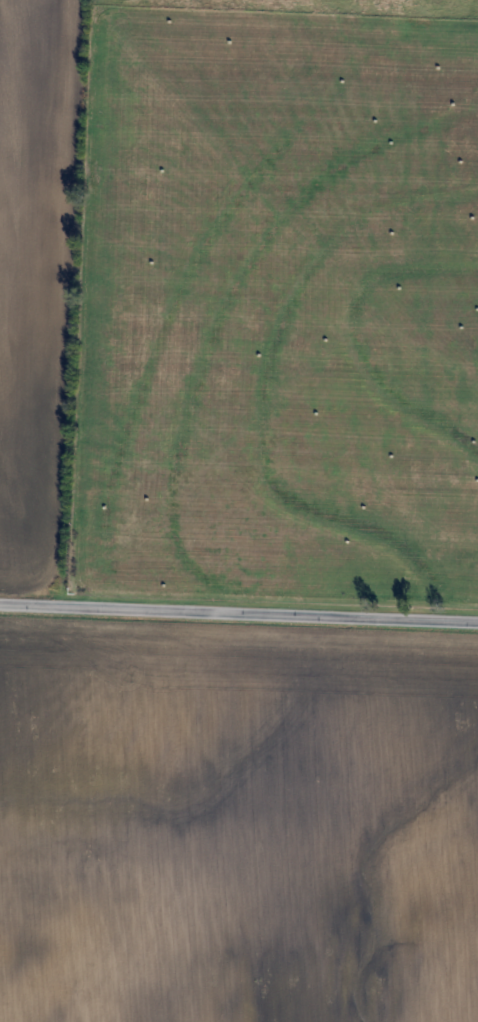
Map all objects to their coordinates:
road: (238, 613)

